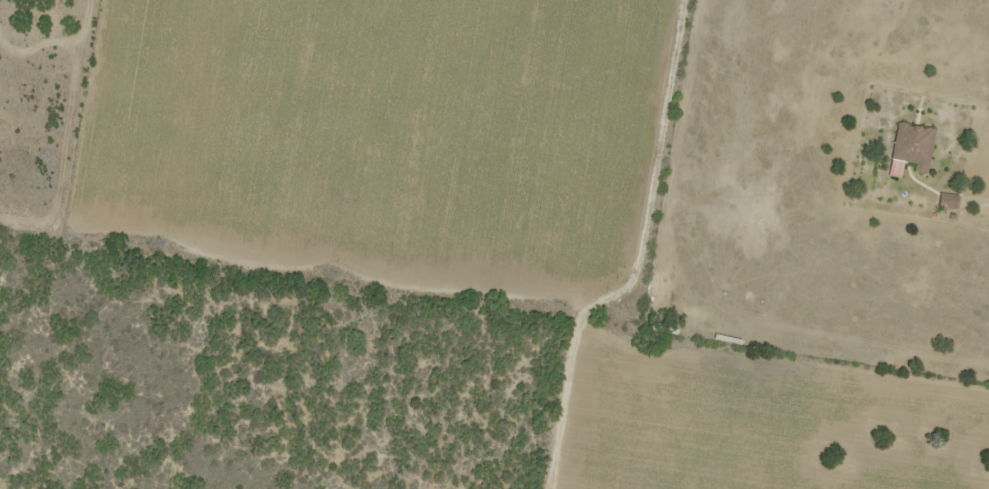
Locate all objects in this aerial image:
building: (910, 146)
road: (975, 196)
building: (947, 199)
road: (494, 305)

